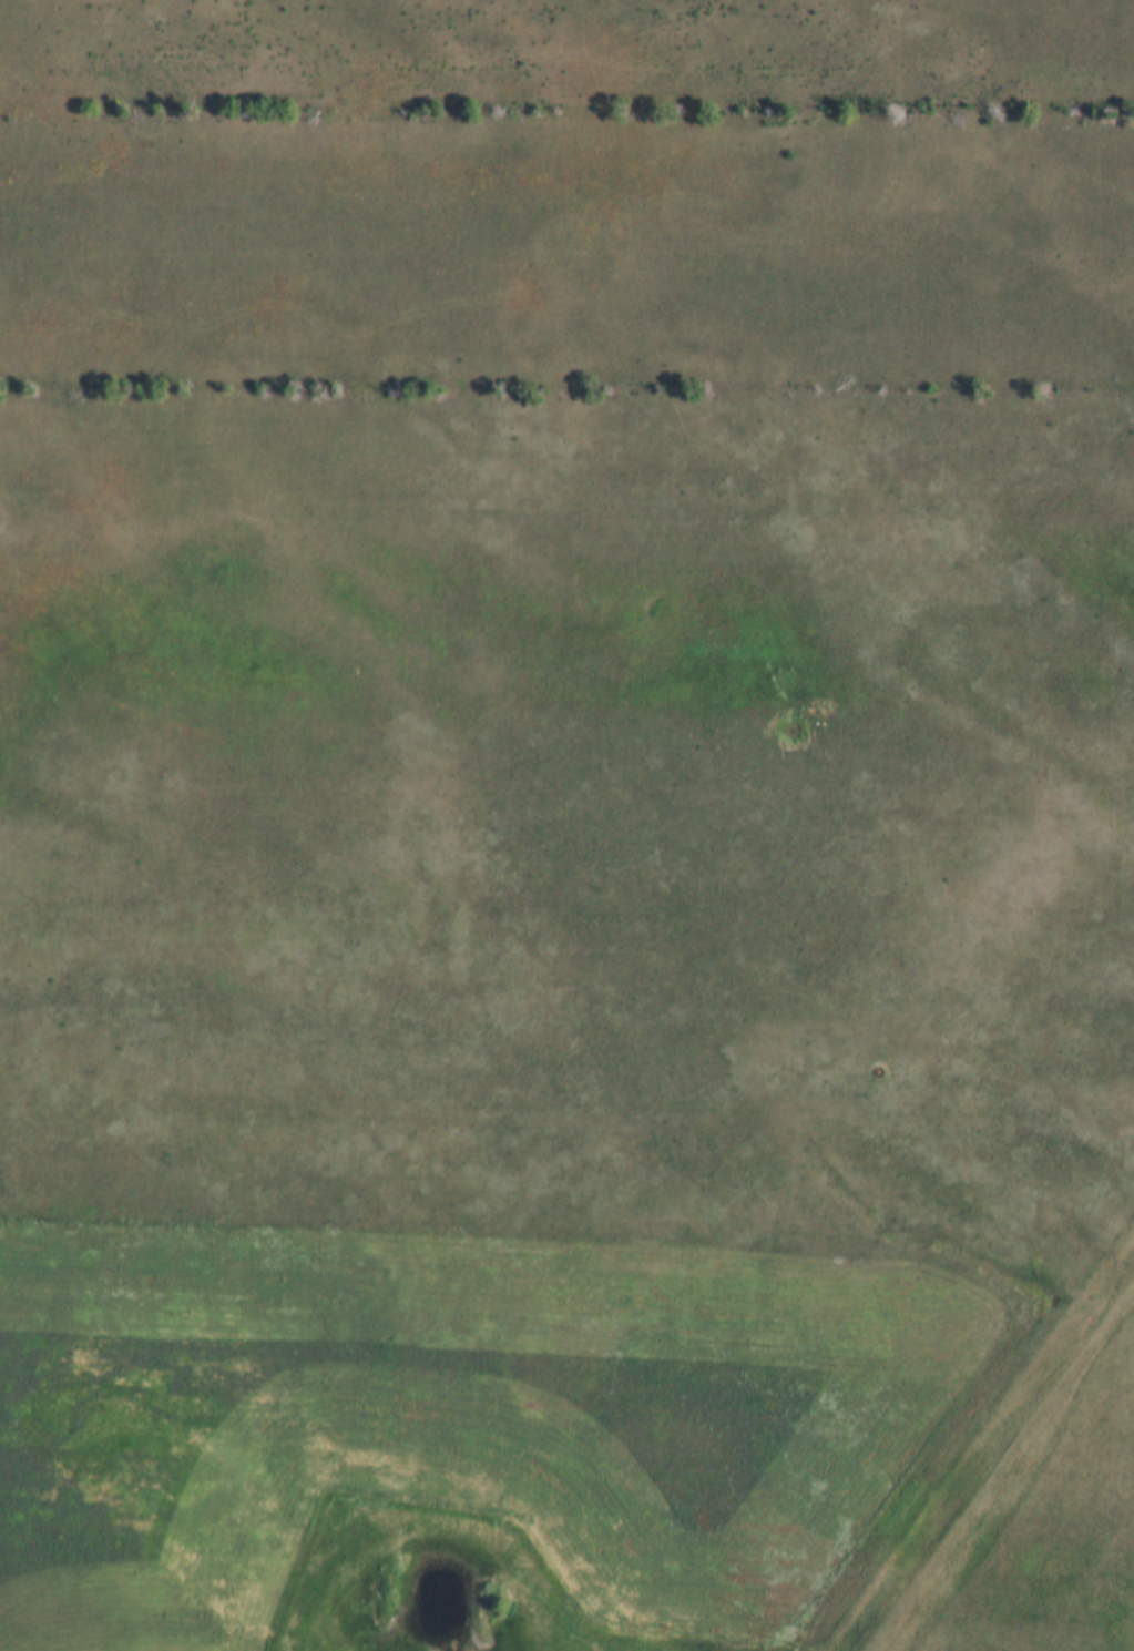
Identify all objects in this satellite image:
road: (815, 1645)

